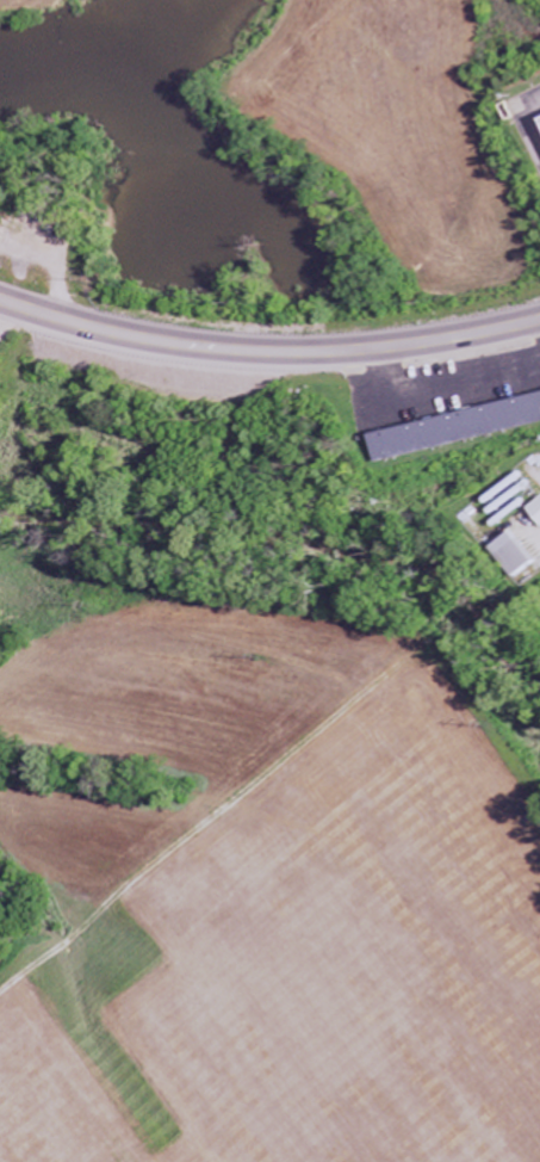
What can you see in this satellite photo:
road: (267, 350)
building: (461, 428)
building: (536, 511)
building: (520, 556)

